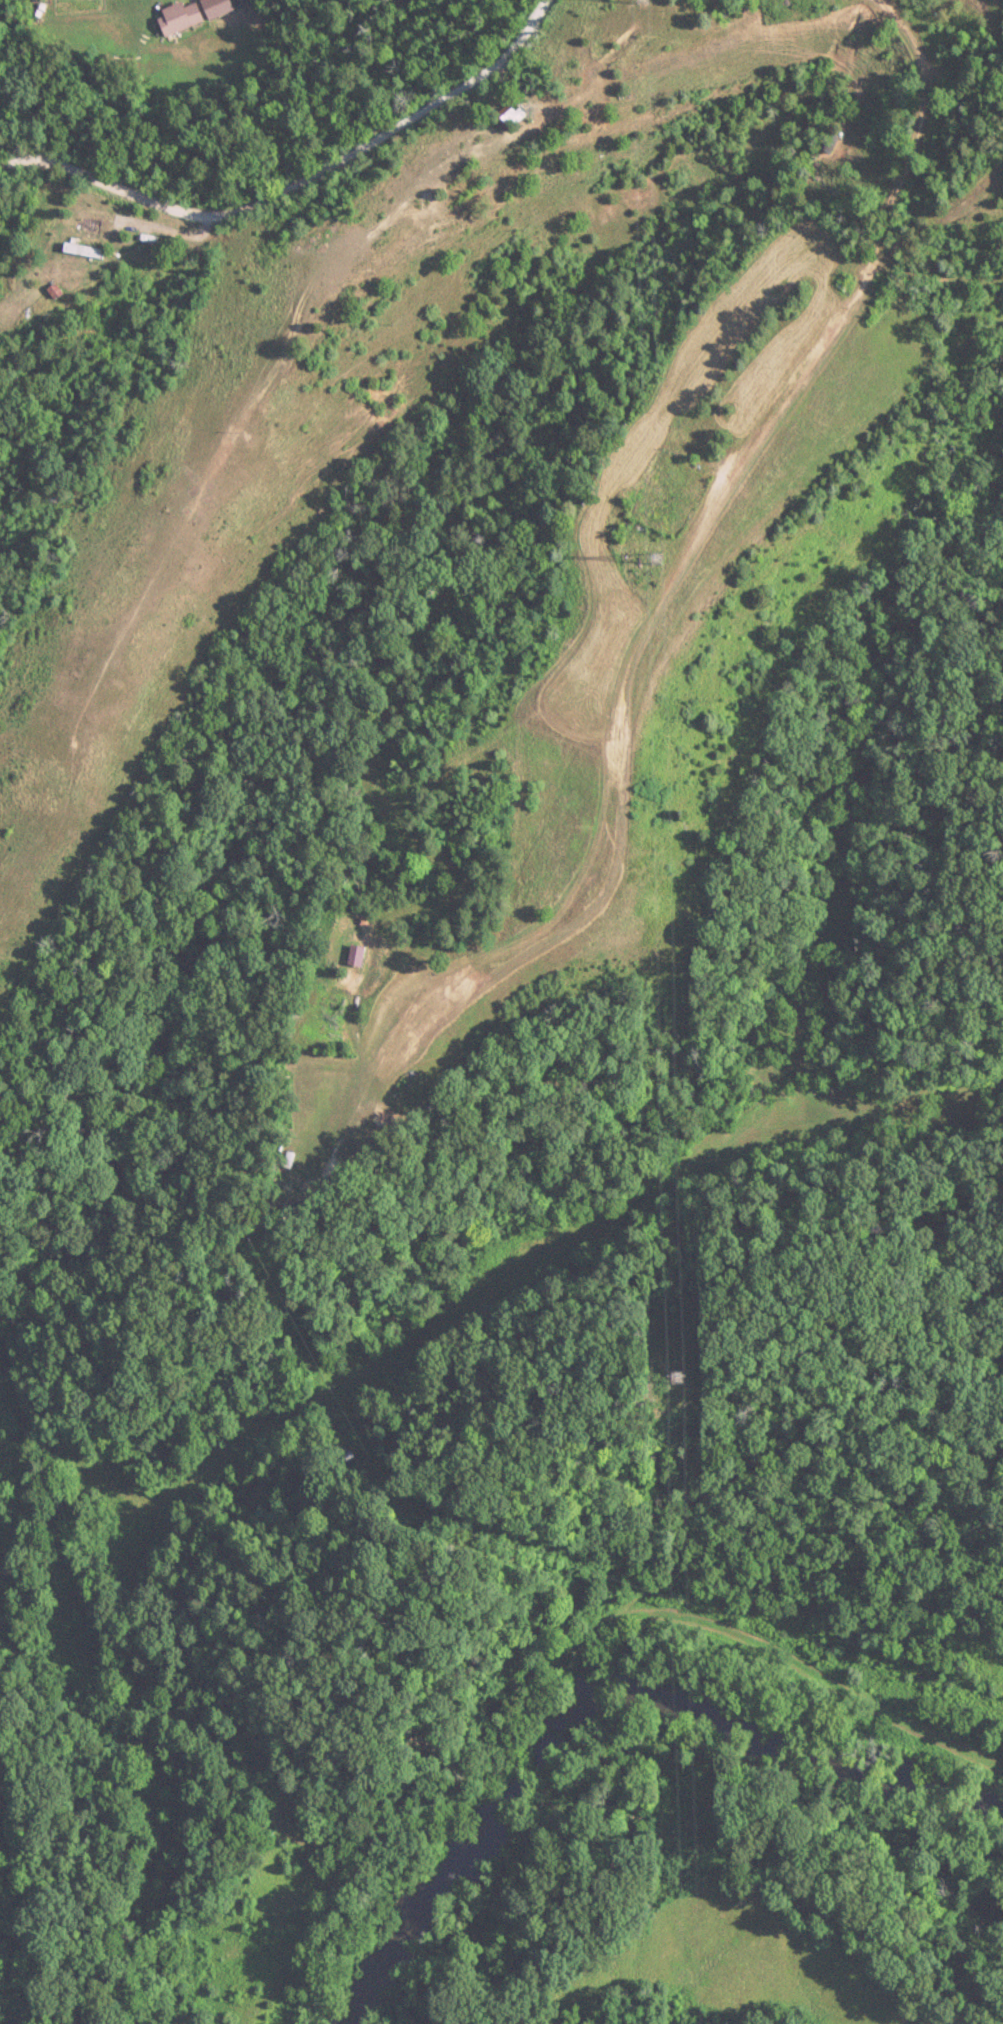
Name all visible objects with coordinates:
building: (794, 3)
building: (179, 18)
building: (509, 117)
road: (295, 182)
building: (90, 227)
power tower: (656, 553)
power tower: (678, 1378)
road: (725, 1895)

